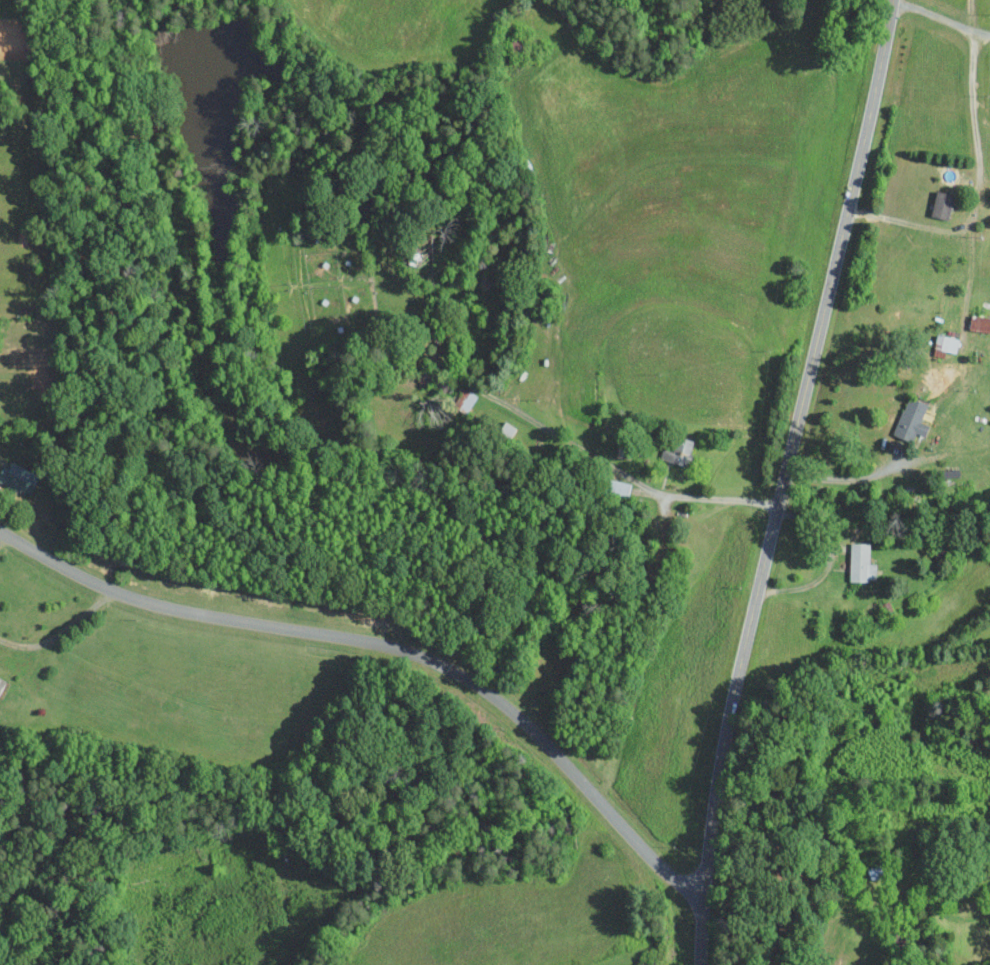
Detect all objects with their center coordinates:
road: (940, 17)
road: (979, 190)
building: (941, 205)
building: (979, 323)
building: (944, 343)
building: (910, 418)
building: (677, 450)
road: (627, 475)
road: (845, 476)
building: (17, 477)
road: (784, 480)
road: (0, 534)
road: (828, 559)
building: (860, 561)
road: (60, 630)
road: (386, 648)
building: (645, 963)

